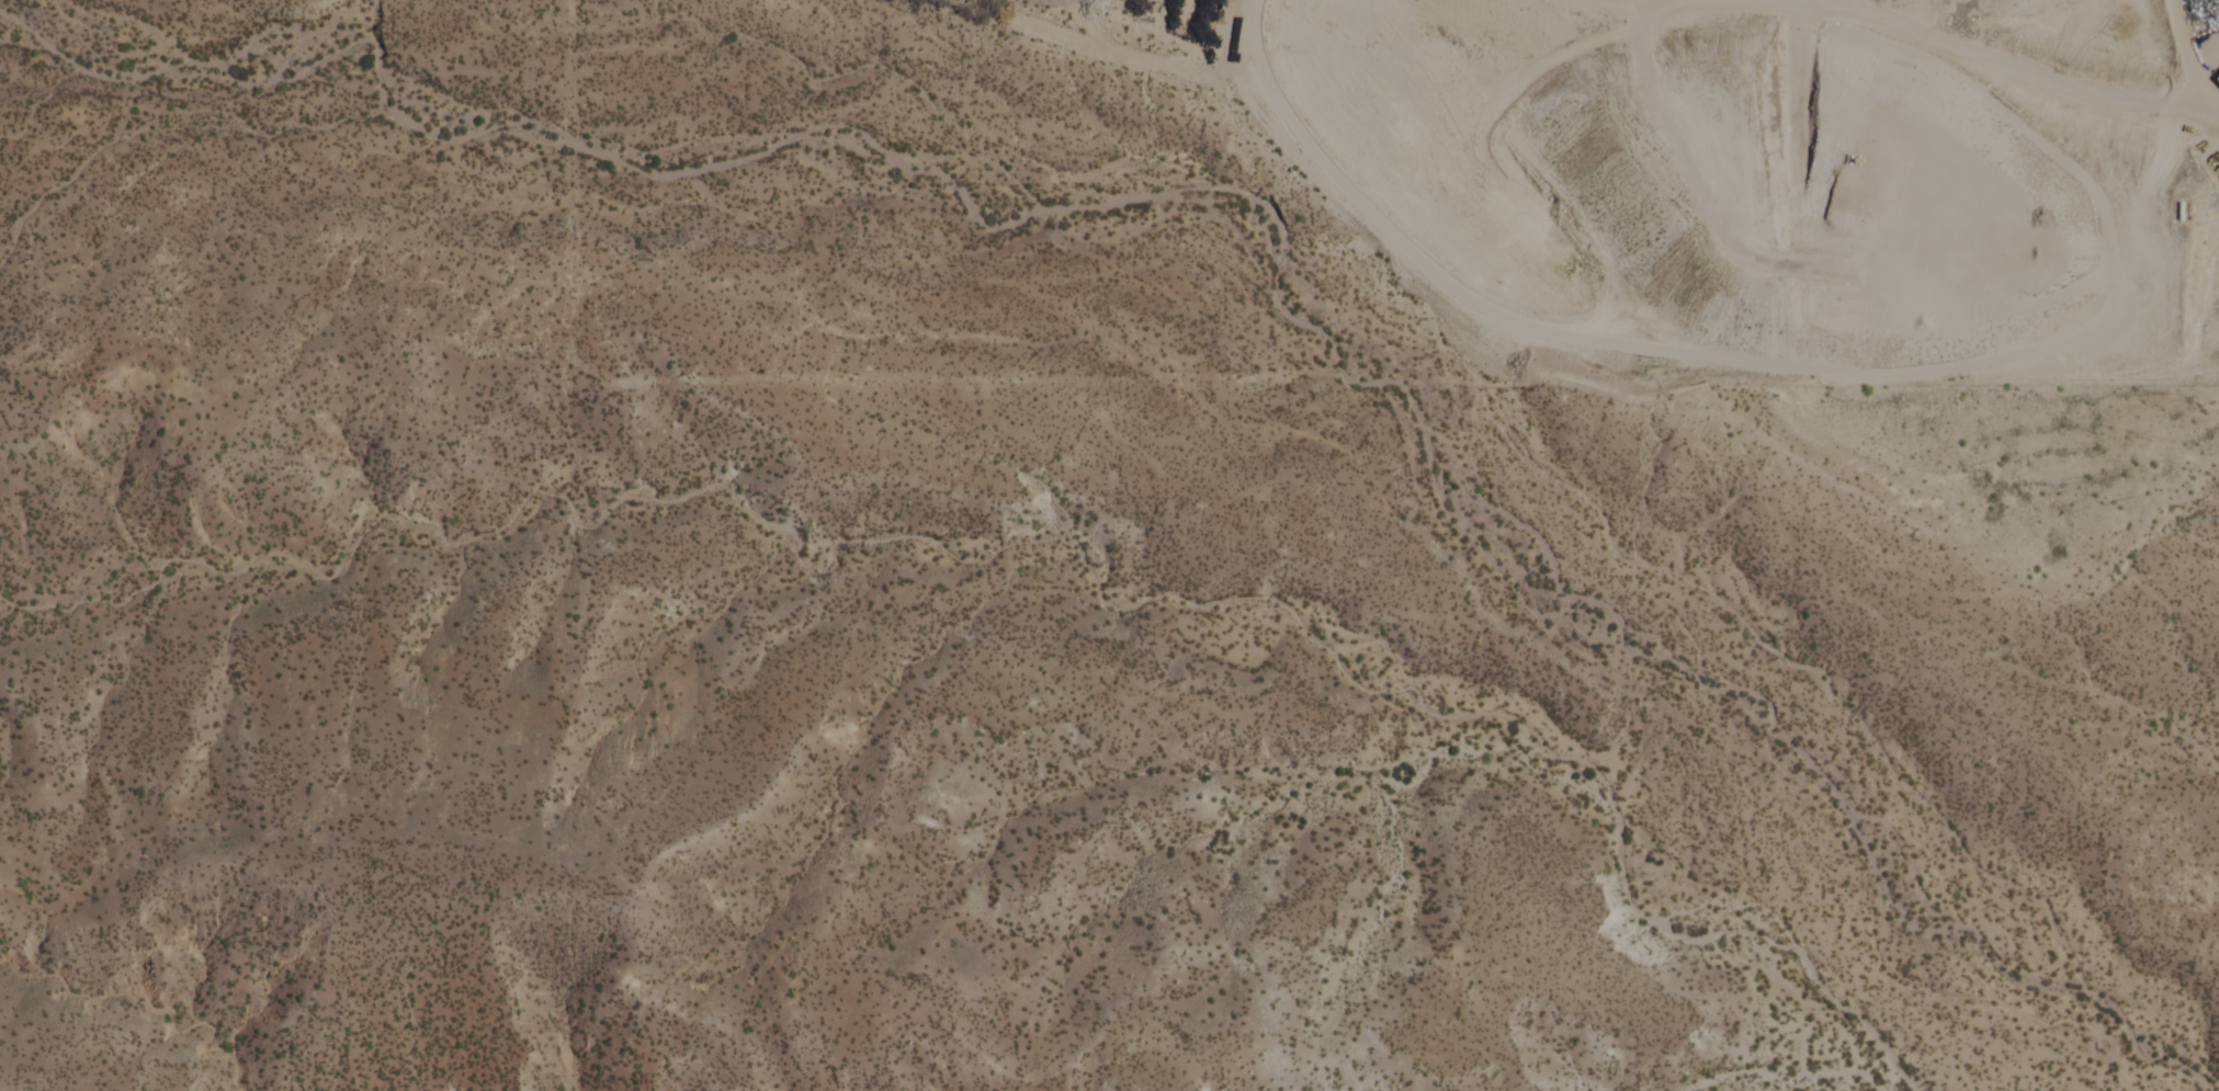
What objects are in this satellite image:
landfill: (1787, 180)

